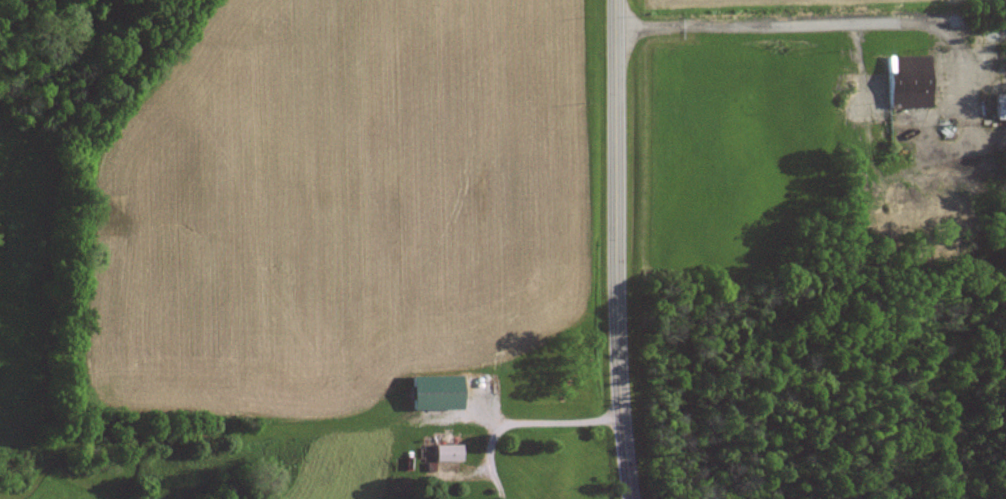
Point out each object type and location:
road: (817, 17)
building: (906, 81)
building: (999, 106)
road: (615, 249)
building: (433, 393)
road: (521, 421)
building: (447, 453)

